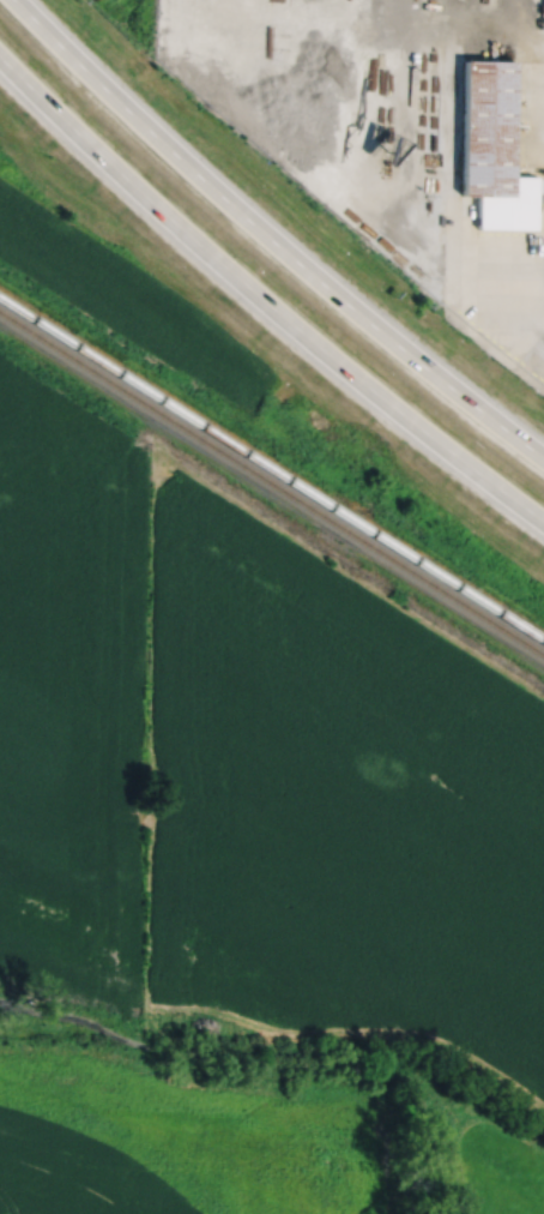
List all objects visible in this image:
road: (363, 136)
building: (491, 150)
road: (270, 239)
road: (532, 298)
road: (264, 299)
road: (532, 329)
railway: (271, 470)
railway: (272, 485)

